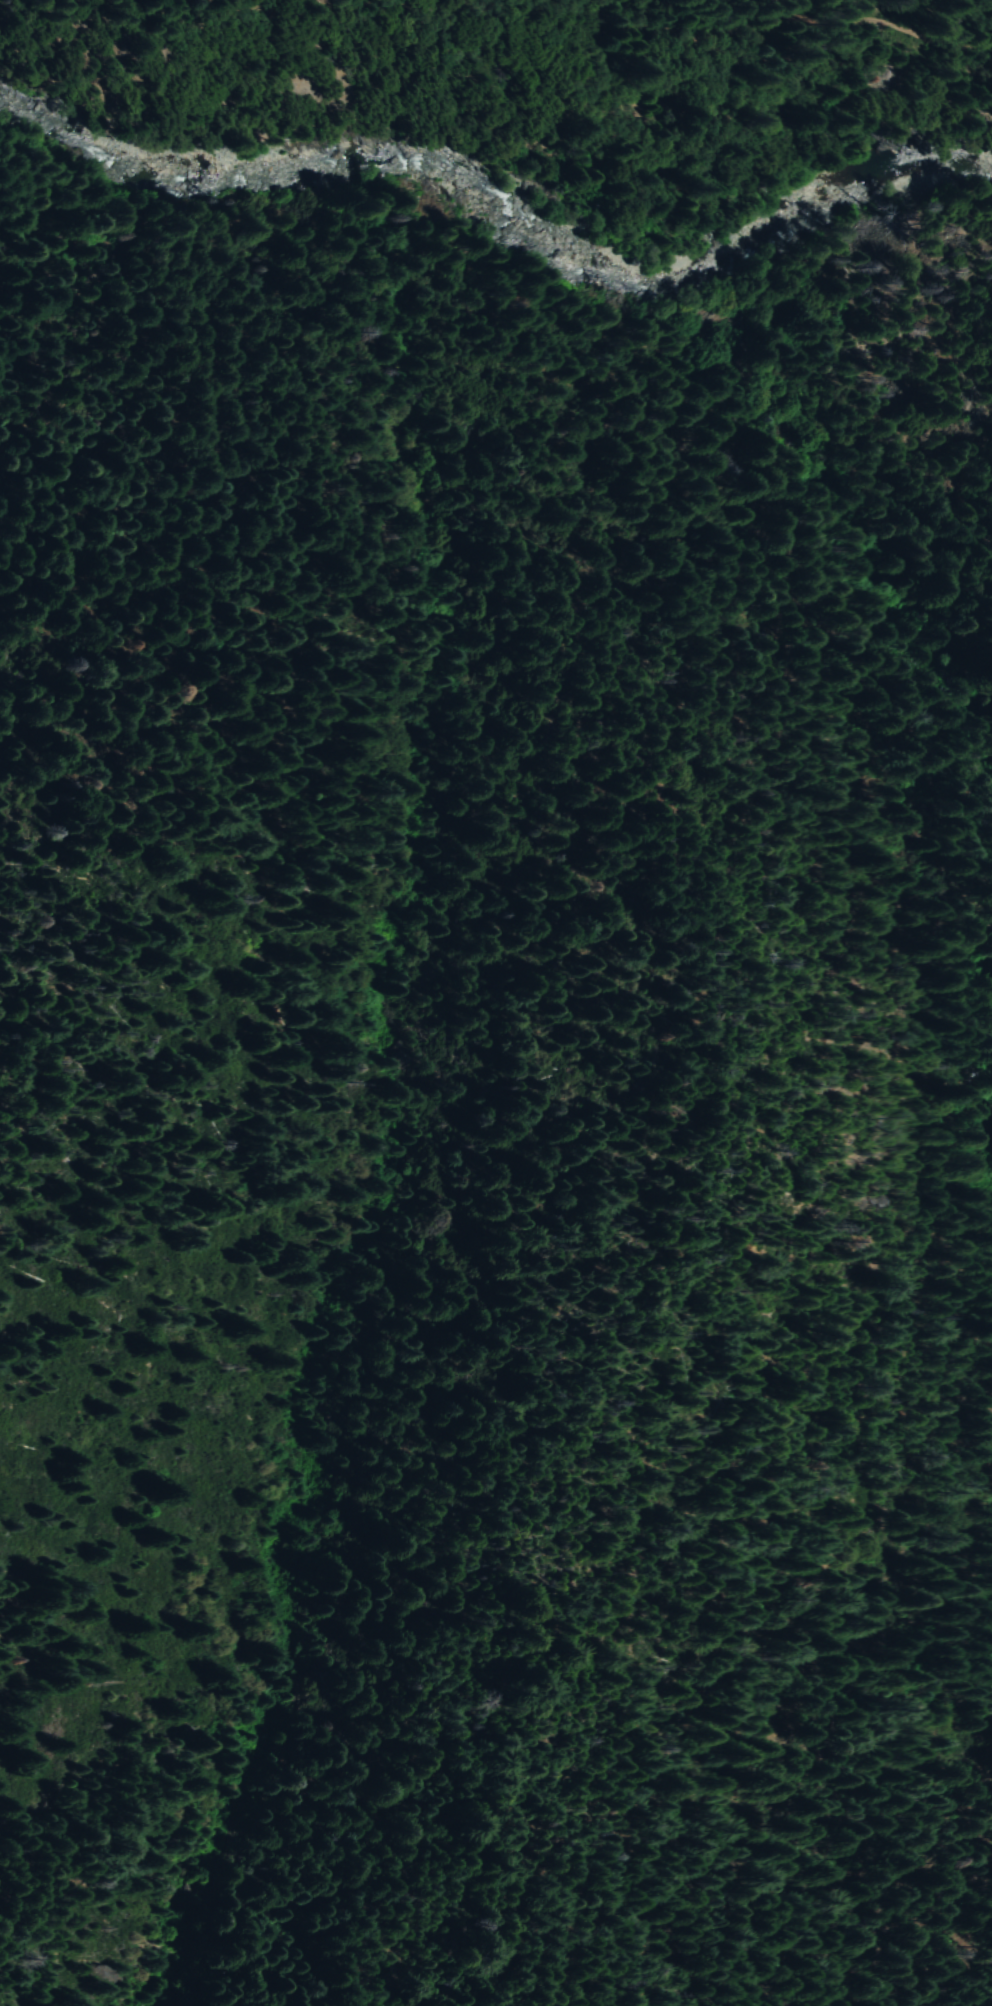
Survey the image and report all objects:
road: (863, 25)
road: (892, 79)
road: (711, 88)
road: (633, 200)
river: (515, 214)

